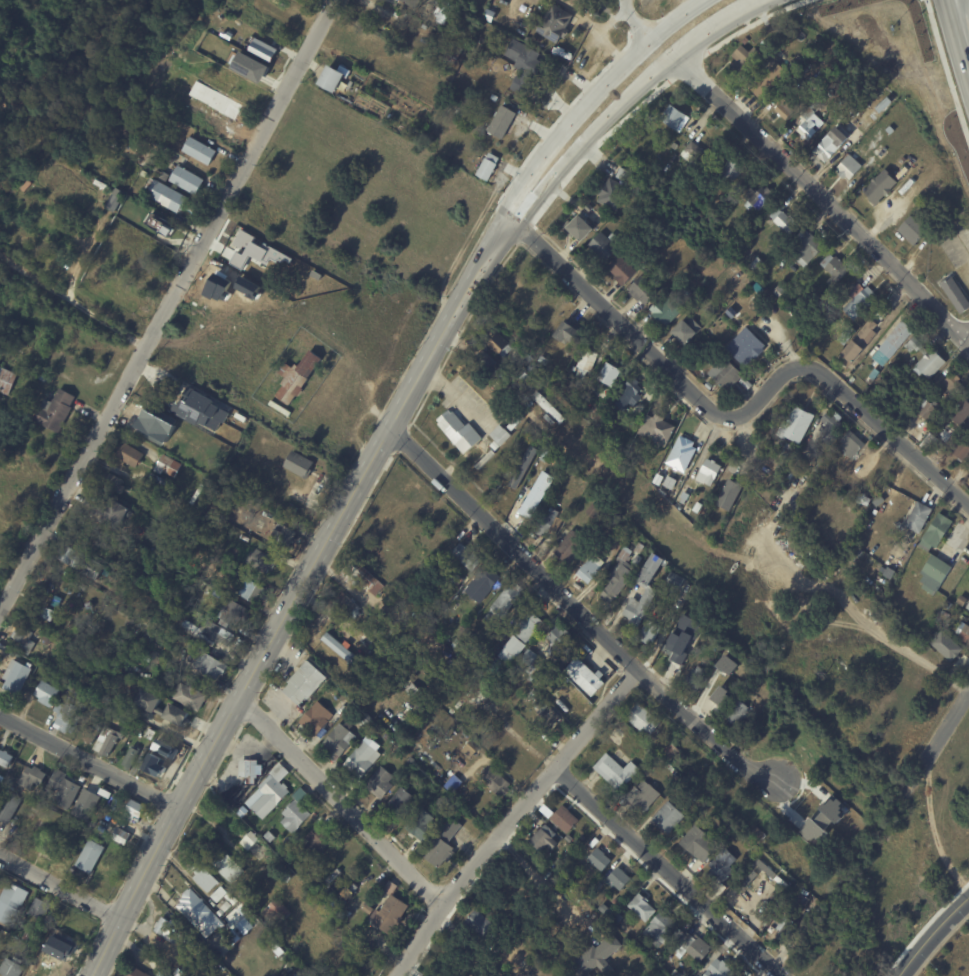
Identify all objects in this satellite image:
building: (413, 3)
road: (744, 10)
road: (949, 10)
road: (955, 10)
building: (445, 11)
road: (676, 16)
road: (636, 18)
building: (556, 23)
building: (447, 30)
building: (759, 32)
road: (698, 41)
building: (263, 49)
road: (961, 50)
building: (452, 51)
building: (747, 60)
park: (135, 63)
building: (524, 65)
road: (947, 66)
building: (250, 67)
building: (331, 78)
building: (771, 81)
road: (577, 95)
building: (495, 98)
building: (787, 107)
building: (461, 111)
building: (851, 113)
building: (674, 117)
road: (572, 119)
building: (812, 120)
building: (502, 122)
building: (891, 130)
road: (594, 140)
building: (832, 144)
building: (200, 151)
building: (694, 153)
building: (849, 167)
building: (487, 169)
building: (635, 169)
building: (731, 171)
building: (144, 173)
building: (624, 174)
building: (186, 180)
building: (881, 187)
building: (693, 191)
building: (612, 194)
building: (165, 195)
building: (758, 198)
building: (115, 199)
road: (822, 199)
building: (95, 207)
building: (590, 207)
building: (785, 221)
building: (161, 225)
building: (715, 227)
building: (579, 228)
building: (914, 231)
building: (605, 246)
building: (808, 247)
road: (82, 259)
building: (758, 265)
building: (835, 269)
building: (623, 270)
building: (737, 286)
building: (644, 290)
building: (686, 291)
building: (781, 293)
building: (862, 294)
building: (957, 294)
road: (70, 305)
road: (168, 305)
building: (666, 311)
building: (732, 313)
road: (616, 318)
building: (688, 331)
building: (567, 334)
building: (848, 335)
road: (966, 335)
building: (860, 343)
building: (893, 344)
building: (500, 346)
building: (747, 347)
building: (526, 354)
building: (927, 359)
building: (543, 360)
building: (588, 360)
building: (487, 361)
building: (528, 374)
building: (610, 374)
building: (726, 374)
building: (42, 376)
building: (297, 376)
building: (6, 379)
building: (747, 384)
building: (710, 386)
building: (953, 386)
building: (595, 391)
building: (611, 397)
building: (631, 397)
road: (849, 397)
building: (549, 408)
building: (55, 409)
building: (201, 410)
building: (930, 411)
building: (960, 411)
building: (968, 419)
building: (516, 422)
building: (797, 425)
building: (832, 425)
building: (657, 429)
building: (459, 432)
building: (942, 432)
building: (501, 435)
building: (172, 440)
building: (929, 441)
building: (571, 444)
building: (852, 445)
building: (948, 446)
building: (822, 449)
building: (789, 451)
building: (962, 451)
building: (130, 454)
building: (683, 454)
building: (298, 463)
building: (168, 465)
building: (522, 466)
building: (710, 473)
building: (659, 479)
building: (317, 480)
building: (111, 481)
building: (671, 482)
building: (208, 486)
building: (776, 486)
building: (537, 495)
building: (730, 495)
building: (685, 498)
building: (864, 500)
building: (698, 507)
building: (799, 508)
building: (594, 511)
building: (113, 512)
building: (919, 518)
building: (548, 524)
building: (937, 533)
building: (285, 534)
road: (958, 538)
building: (571, 548)
building: (640, 548)
building: (468, 555)
building: (262, 560)
building: (638, 560)
building: (80, 561)
building: (883, 570)
building: (590, 572)
building: (890, 573)
building: (116, 574)
building: (233, 574)
building: (935, 575)
building: (619, 576)
building: (362, 577)
building: (72, 579)
building: (456, 581)
building: (484, 581)
building: (675, 581)
building: (693, 587)
building: (252, 589)
building: (217, 592)
road: (297, 593)
building: (651, 594)
building: (223, 598)
building: (505, 601)
building: (962, 601)
building: (349, 604)
building: (949, 606)
building: (968, 608)
road: (578, 610)
building: (47, 612)
building: (235, 613)
building: (529, 625)
building: (654, 627)
building: (391, 628)
building: (213, 632)
building: (964, 632)
building: (48, 637)
building: (559, 638)
building: (23, 639)
building: (366, 641)
building: (458, 644)
building: (514, 645)
building: (948, 647)
building: (68, 649)
building: (342, 650)
building: (728, 652)
building: (675, 657)
building: (128, 659)
building: (529, 661)
building: (728, 664)
building: (210, 665)
building: (417, 665)
building: (451, 669)
building: (514, 671)
building: (586, 675)
building: (16, 676)
building: (532, 677)
building: (449, 680)
building: (696, 680)
building: (305, 682)
building: (415, 691)
building: (479, 691)
building: (47, 693)
building: (533, 693)
building: (763, 694)
building: (190, 696)
building: (722, 696)
building: (577, 704)
building: (71, 708)
building: (148, 708)
building: (462, 711)
building: (546, 714)
building: (737, 714)
building: (96, 716)
building: (316, 718)
building: (364, 718)
building: (644, 719)
building: (128, 724)
building: (91, 731)
building: (390, 739)
building: (340, 740)
building: (106, 742)
road: (939, 745)
building: (471, 749)
building: (669, 750)
building: (162, 751)
building: (649, 753)
building: (131, 757)
building: (5, 759)
building: (362, 759)
building: (460, 759)
road: (90, 761)
building: (250, 769)
building: (617, 771)
building: (32, 777)
building: (496, 780)
building: (354, 782)
building: (380, 782)
building: (75, 791)
building: (693, 794)
building: (270, 795)
building: (644, 796)
road: (341, 800)
building: (400, 803)
building: (85, 804)
building: (685, 806)
building: (9, 807)
building: (243, 810)
building: (134, 811)
building: (547, 811)
building: (443, 813)
building: (295, 815)
building: (669, 816)
building: (565, 818)
building: (824, 818)
road: (512, 819)
building: (422, 825)
building: (757, 834)
building: (122, 836)
building: (544, 837)
building: (319, 840)
building: (250, 841)
building: (443, 843)
building: (701, 843)
building: (579, 844)
building: (90, 855)
building: (600, 859)
building: (564, 860)
building: (723, 865)
building: (231, 870)
building: (797, 871)
road: (669, 872)
building: (289, 877)
building: (306, 877)
building: (205, 878)
building: (619, 878)
road: (542, 883)
building: (317, 886)
road: (60, 887)
building: (354, 887)
building: (719, 887)
building: (753, 888)
building: (219, 894)
building: (244, 894)
building: (231, 899)
building: (12, 903)
building: (801, 903)
building: (339, 905)
building: (226, 906)
building: (369, 906)
building: (642, 907)
building: (38, 908)
building: (352, 909)
building: (606, 909)
building: (278, 910)
building: (221, 912)
building: (200, 913)
building: (364, 914)
building: (390, 914)
building: (50, 915)
building: (619, 918)
building: (789, 924)
building: (355, 925)
building: (483, 926)
building: (627, 926)
building: (167, 928)
building: (664, 930)
building: (369, 933)
building: (29, 934)
road: (932, 934)
building: (695, 946)
building: (626, 955)
park: (950, 955)
building: (597, 957)
building: (42, 959)
building: (676, 962)
building: (11, 967)
building: (158, 969)
building: (721, 969)
building: (137, 972)
building: (301, 974)
building: (444, 975)

